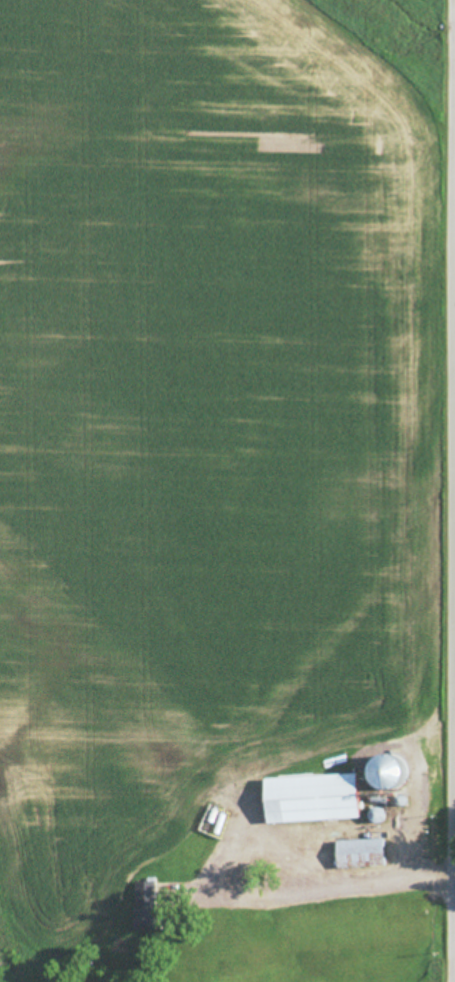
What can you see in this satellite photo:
road: (441, 490)
building: (311, 800)
building: (360, 856)
road: (285, 867)
building: (146, 907)

